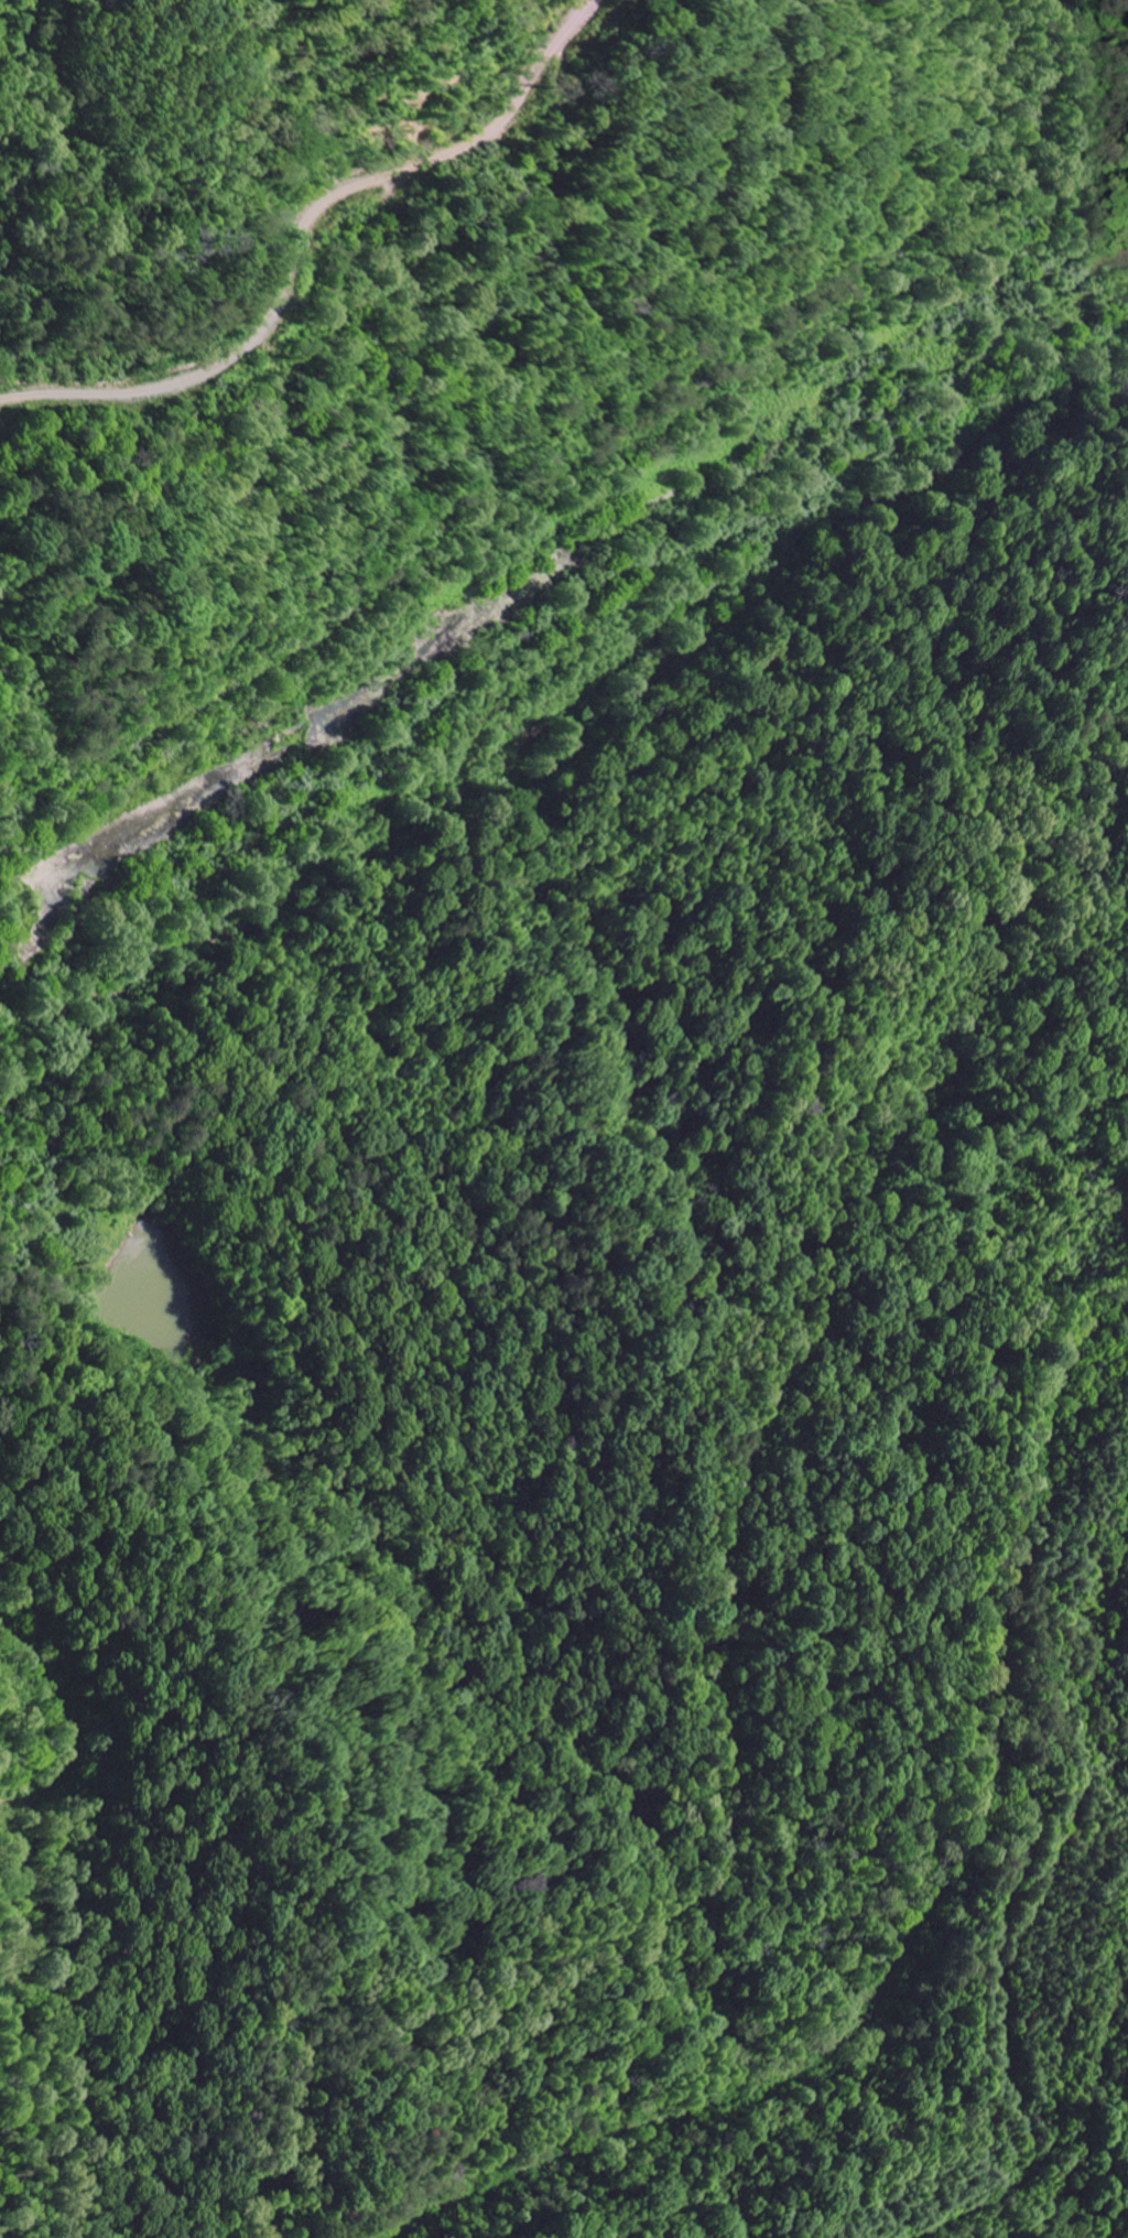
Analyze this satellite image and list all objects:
road: (319, 249)
road: (55, 1727)
road: (956, 1880)

